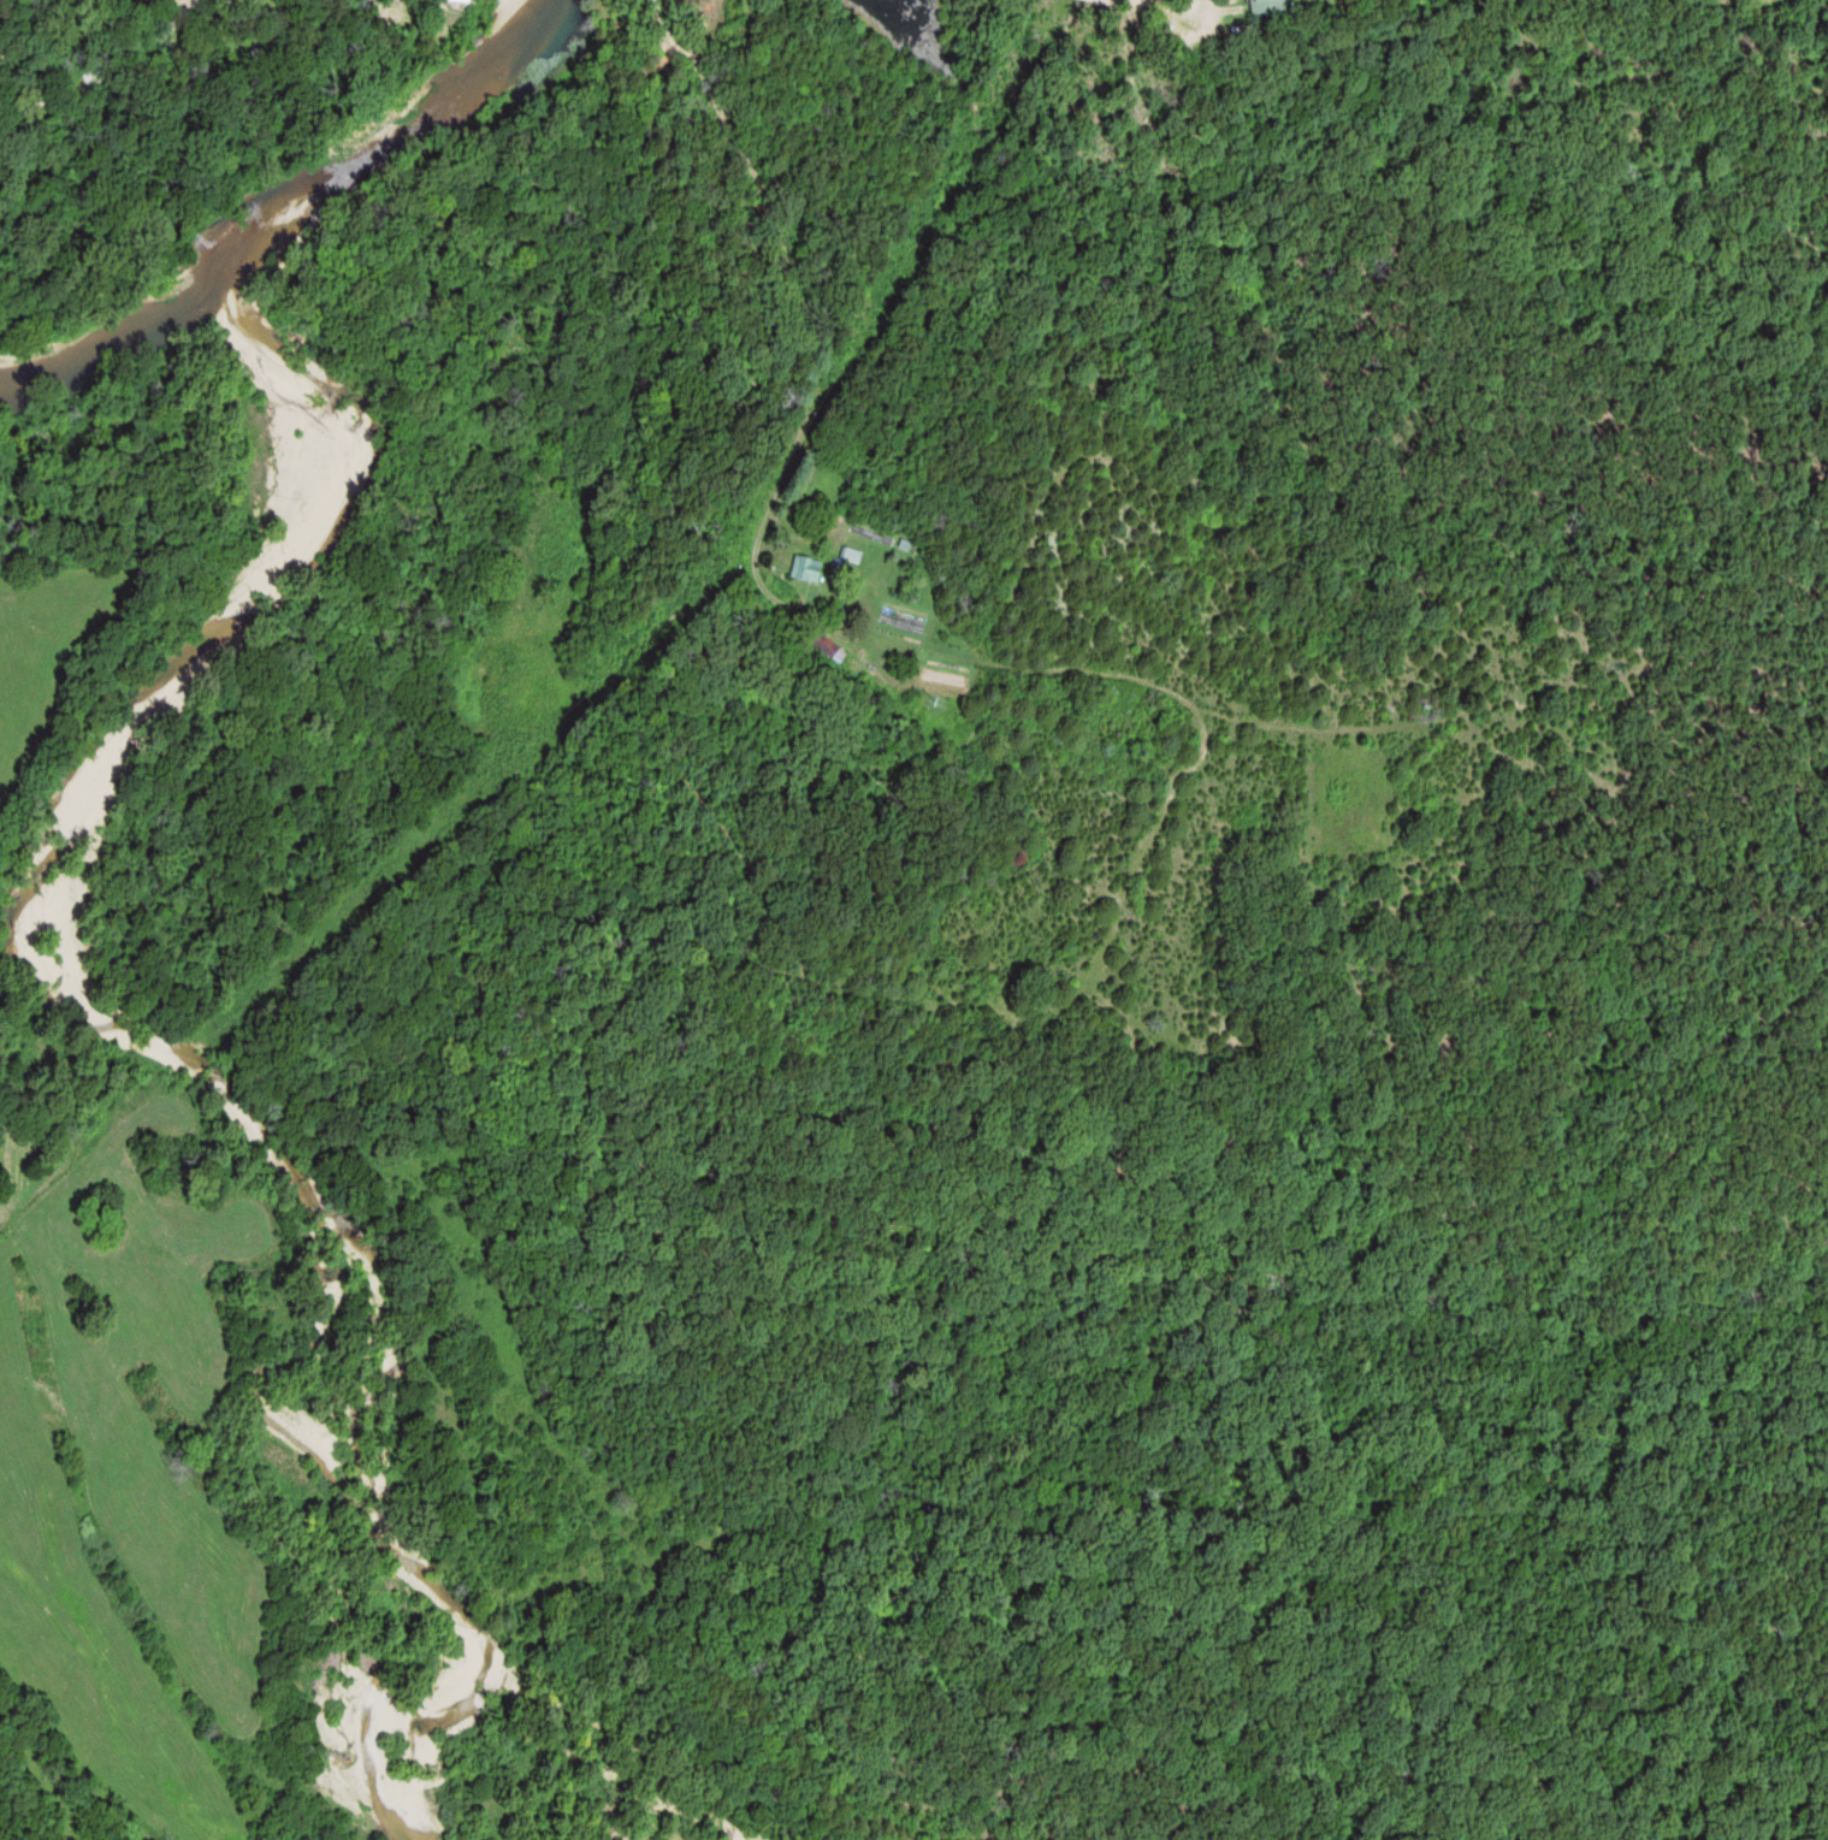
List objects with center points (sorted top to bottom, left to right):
building: (1270, 5)
road: (1179, 19)
river: (292, 207)
road: (812, 307)
building: (810, 567)

